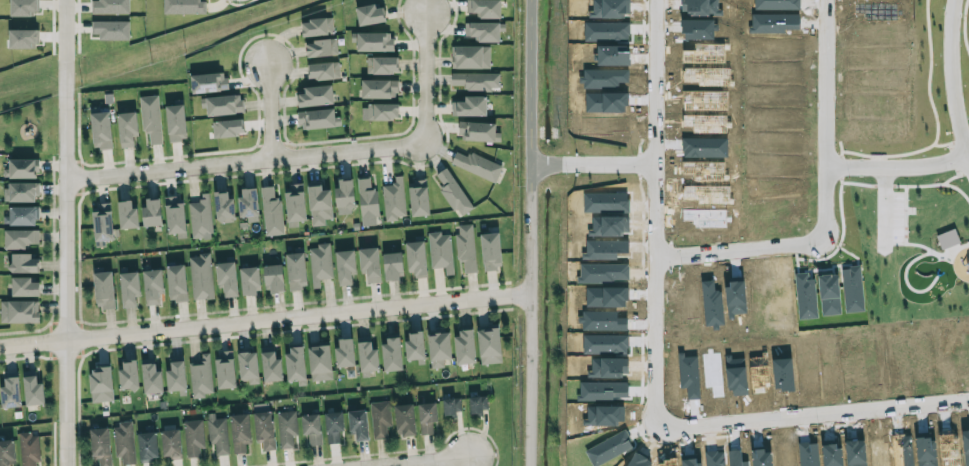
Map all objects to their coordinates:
building: (110, 6)
building: (182, 6)
building: (23, 8)
building: (484, 8)
building: (369, 14)
building: (317, 26)
building: (109, 29)
building: (22, 39)
building: (372, 41)
building: (320, 48)
building: (470, 57)
building: (382, 65)
building: (323, 70)
road: (424, 75)
building: (476, 80)
building: (208, 82)
road: (951, 82)
building: (379, 88)
building: (315, 96)
building: (222, 104)
building: (469, 106)
road: (269, 108)
building: (379, 112)
building: (150, 118)
building: (317, 119)
road: (823, 119)
building: (175, 122)
road: (653, 127)
building: (126, 128)
building: (227, 128)
building: (100, 130)
building: (478, 131)
road: (245, 158)
road: (593, 162)
building: (477, 165)
building: (23, 168)
road: (896, 170)
building: (20, 192)
building: (344, 193)
building: (453, 193)
building: (418, 197)
building: (393, 199)
building: (367, 203)
building: (248, 204)
building: (318, 204)
building: (294, 205)
building: (223, 206)
building: (151, 212)
building: (271, 212)
building: (174, 214)
building: (21, 215)
building: (126, 215)
building: (200, 218)
building: (101, 224)
road: (67, 232)
road: (533, 233)
building: (19, 238)
building: (465, 247)
road: (736, 247)
building: (490, 251)
building: (440, 252)
building: (415, 258)
building: (24, 263)
building: (320, 263)
building: (369, 264)
building: (392, 266)
building: (344, 267)
building: (295, 271)
building: (200, 276)
building: (226, 278)
building: (273, 278)
building: (249, 281)
building: (176, 283)
building: (151, 286)
building: (24, 287)
building: (128, 289)
building: (103, 290)
building: (18, 311)
road: (266, 323)
road: (655, 335)
building: (488, 344)
building: (414, 345)
building: (464, 347)
building: (438, 349)
building: (344, 353)
building: (391, 353)
building: (366, 355)
building: (319, 362)
building: (294, 364)
building: (270, 365)
building: (247, 367)
building: (224, 369)
building: (128, 375)
building: (175, 376)
building: (200, 376)
building: (151, 378)
building: (100, 383)
building: (32, 389)
building: (10, 392)
building: (477, 403)
building: (451, 406)
road: (812, 413)
building: (426, 417)
building: (379, 419)
building: (404, 420)
building: (358, 424)
building: (333, 426)
building: (311, 428)
building: (286, 429)
building: (264, 430)
building: (239, 432)
building: (217, 433)
building: (193, 437)
building: (124, 442)
building: (170, 444)
building: (100, 445)
building: (147, 446)
building: (29, 449)
building: (6, 452)
road: (432, 462)

